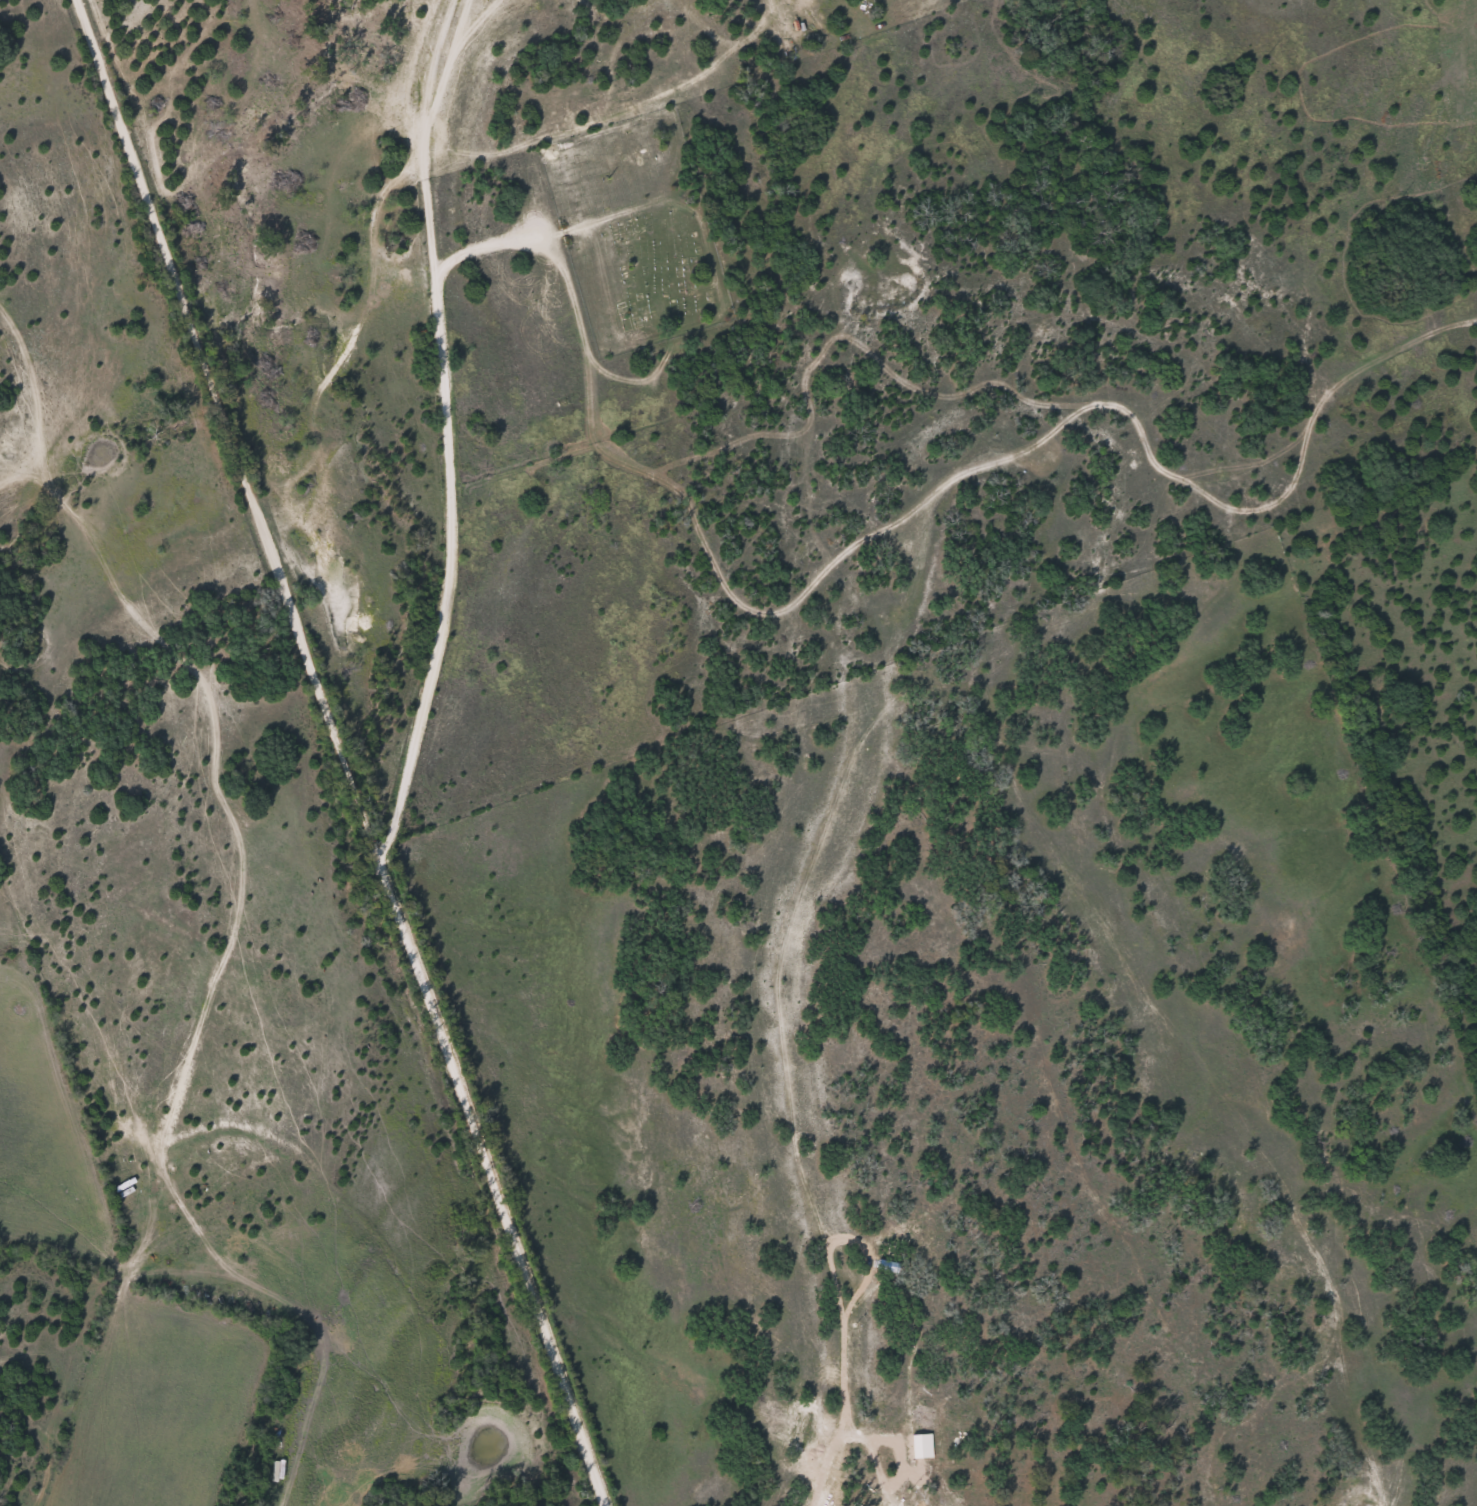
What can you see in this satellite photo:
park: (637, 236)
road: (340, 752)

